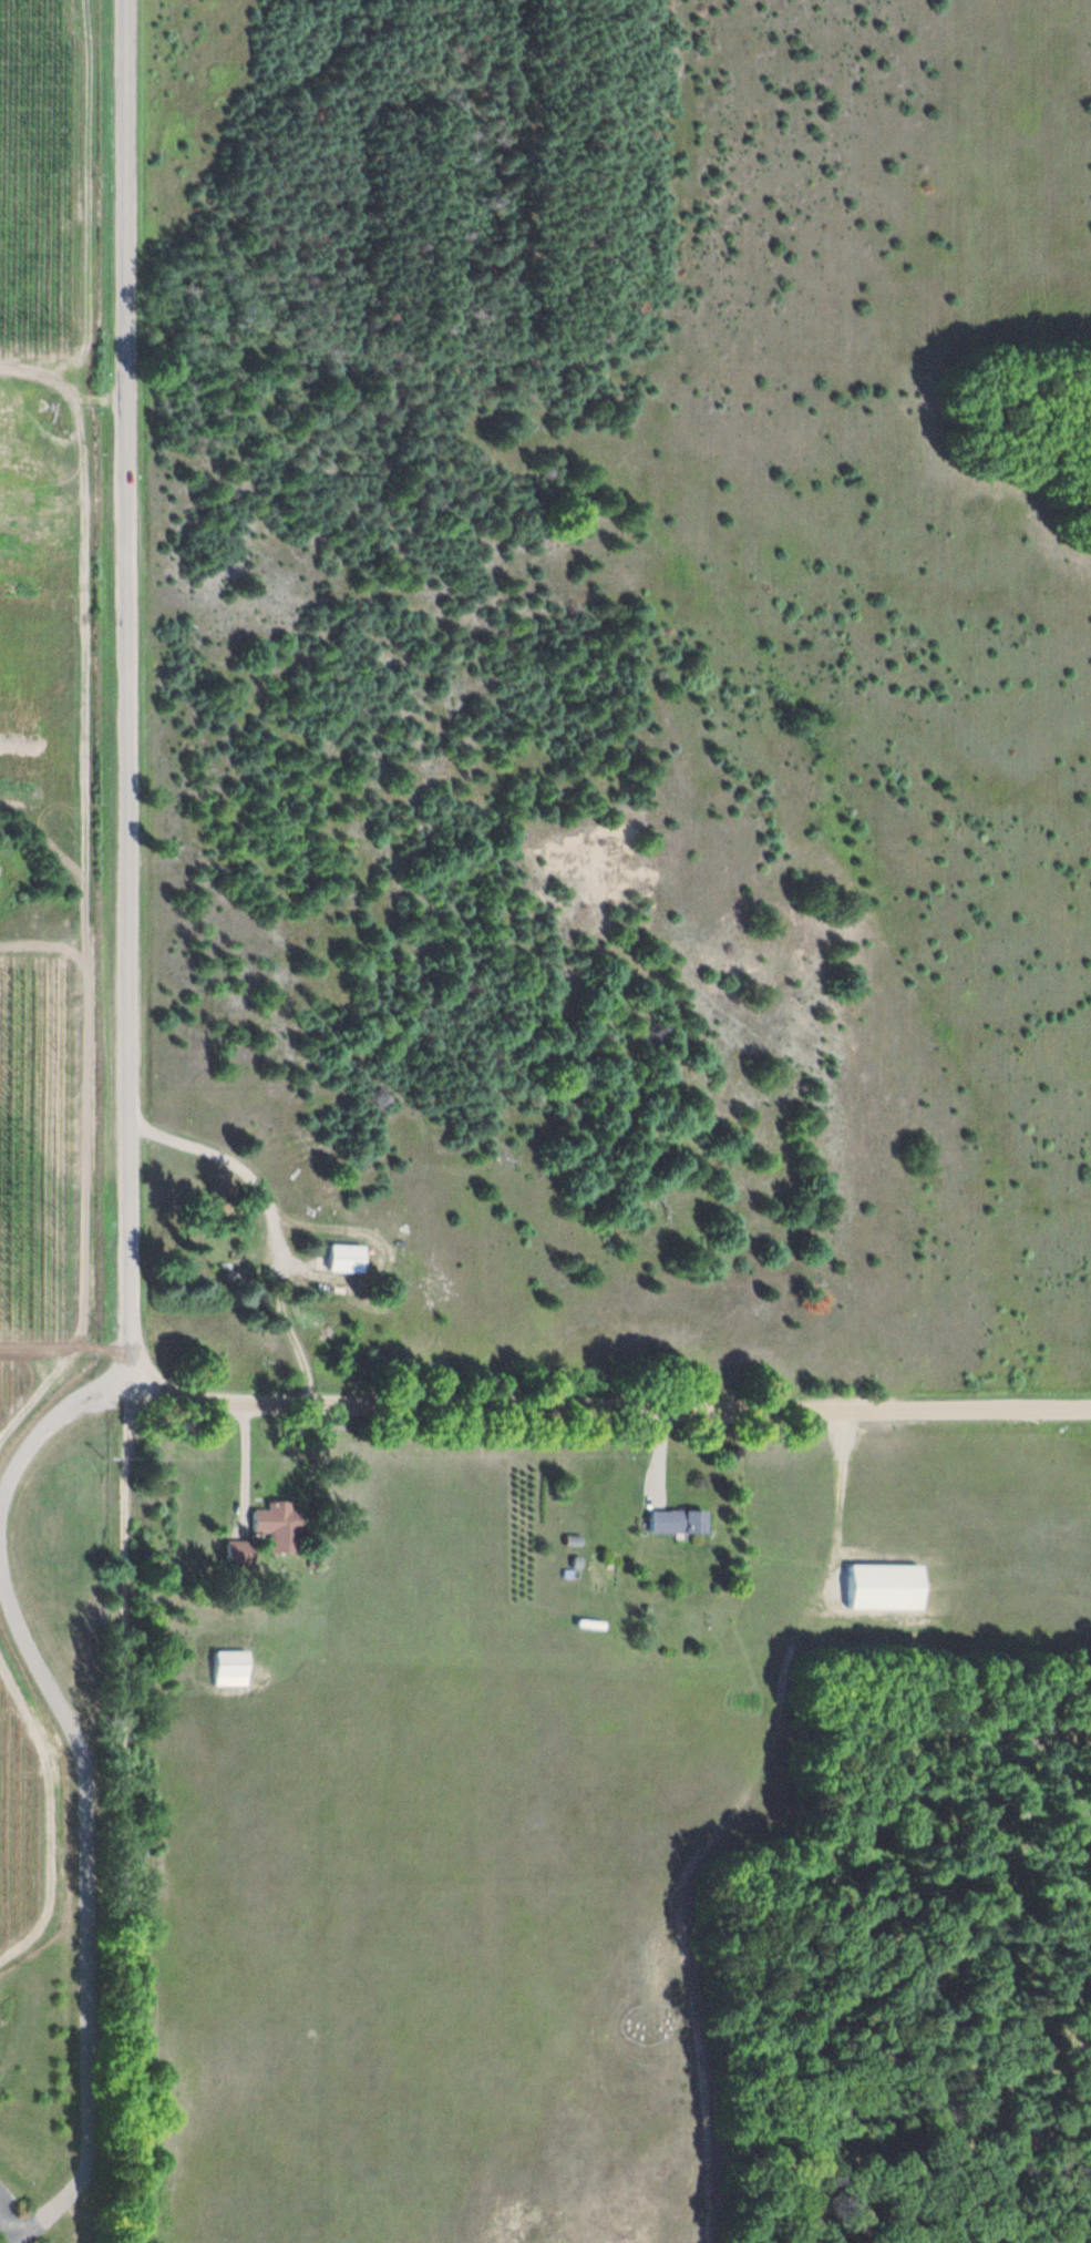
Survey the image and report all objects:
road: (141, 695)
building: (363, 1247)
building: (346, 1257)
road: (97, 1400)
road: (618, 1406)
building: (691, 1509)
building: (296, 1515)
building: (677, 1520)
building: (279, 1524)
building: (589, 1528)
building: (257, 1539)
building: (239, 1551)
building: (898, 1575)
building: (247, 1652)
building: (229, 1661)
road: (104, 1758)
road: (143, 1816)

